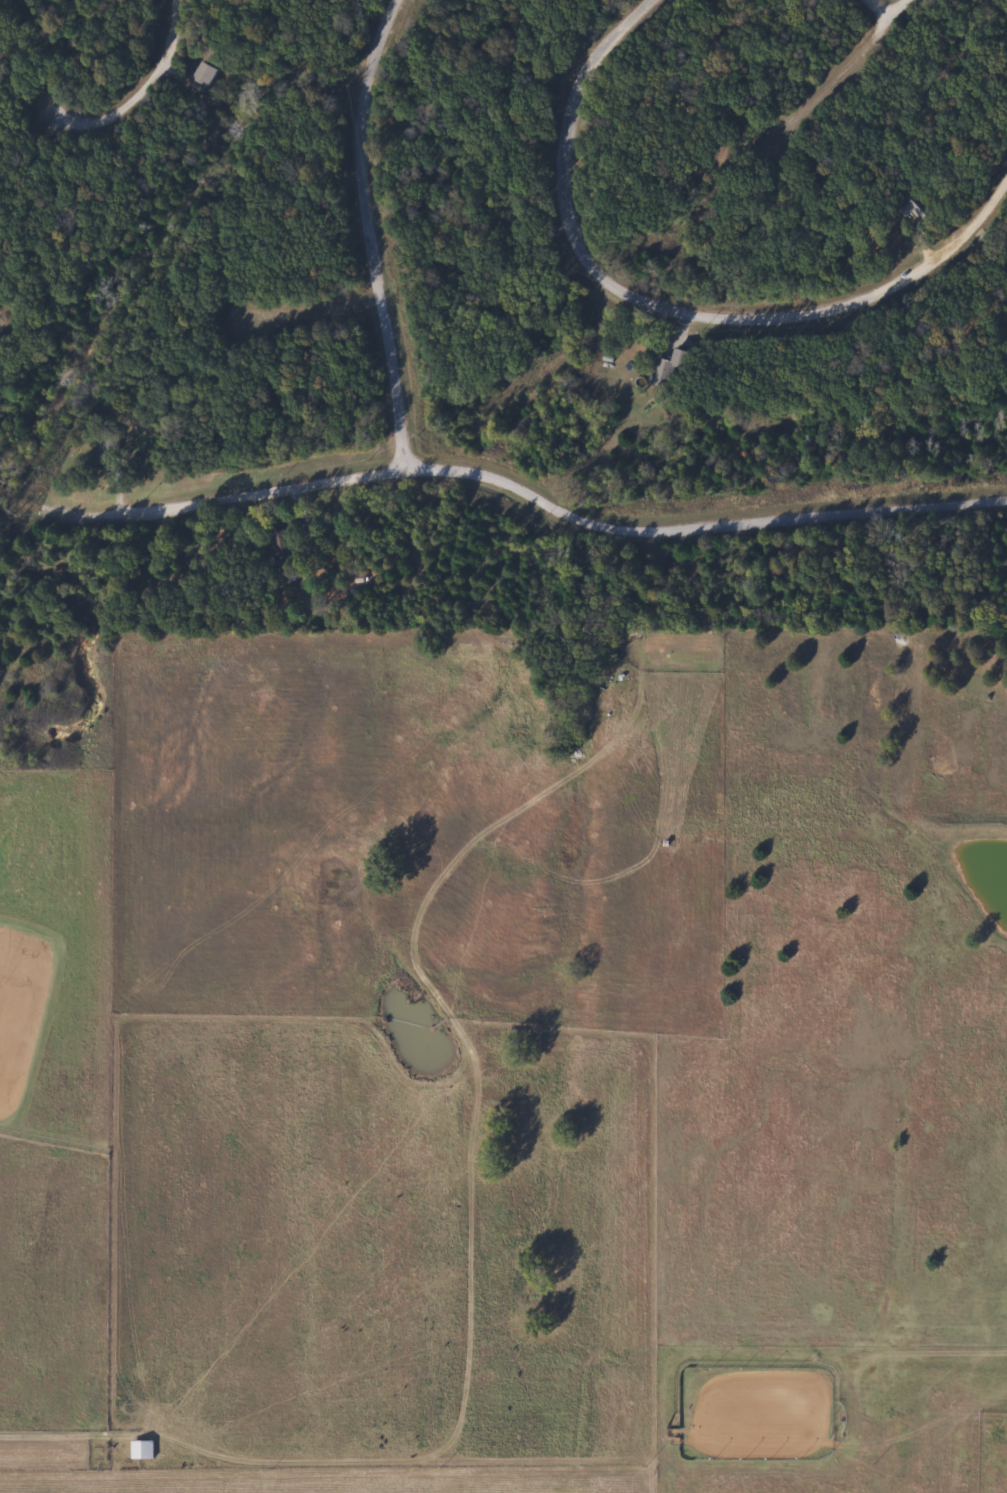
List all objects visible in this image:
road: (883, 6)
road: (839, 65)
building: (210, 74)
road: (140, 87)
road: (368, 232)
road: (663, 306)
road: (329, 336)
road: (19, 351)
building: (674, 369)
building: (108, 455)
road: (203, 503)
road: (701, 530)
building: (284, 549)
building: (142, 1449)

